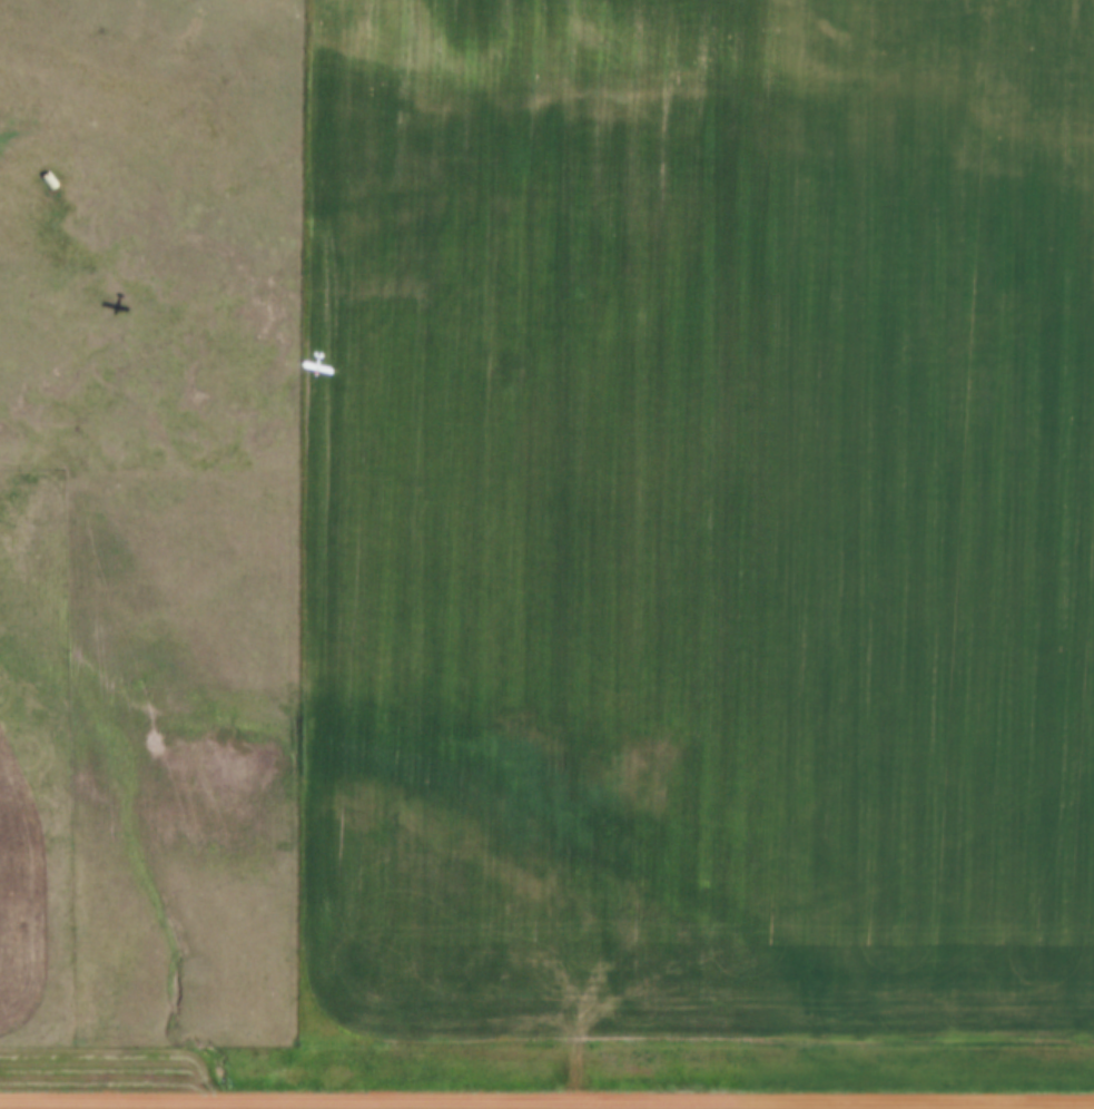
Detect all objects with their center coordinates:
road: (546, 1103)

